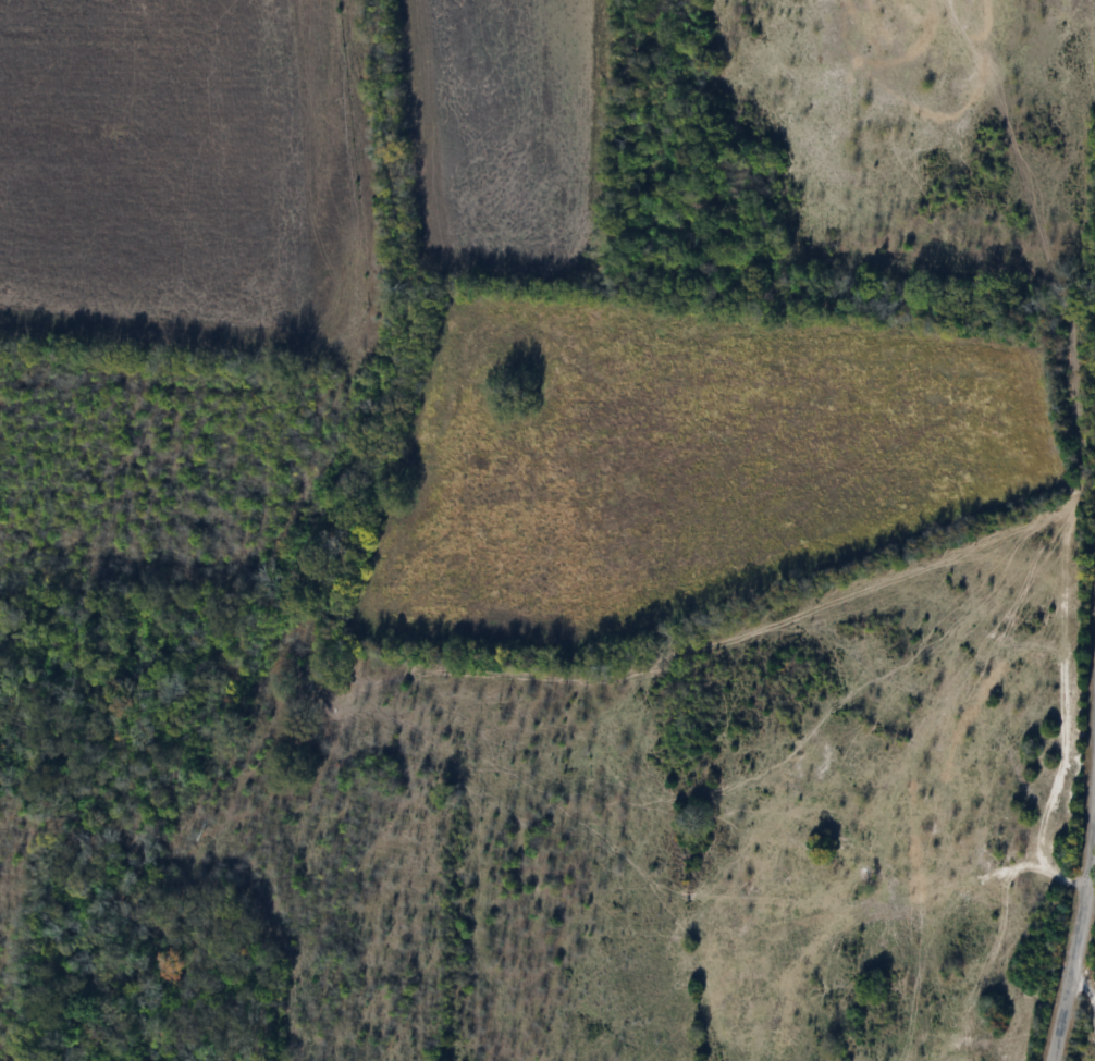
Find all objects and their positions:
road: (1074, 950)
road: (1086, 980)

